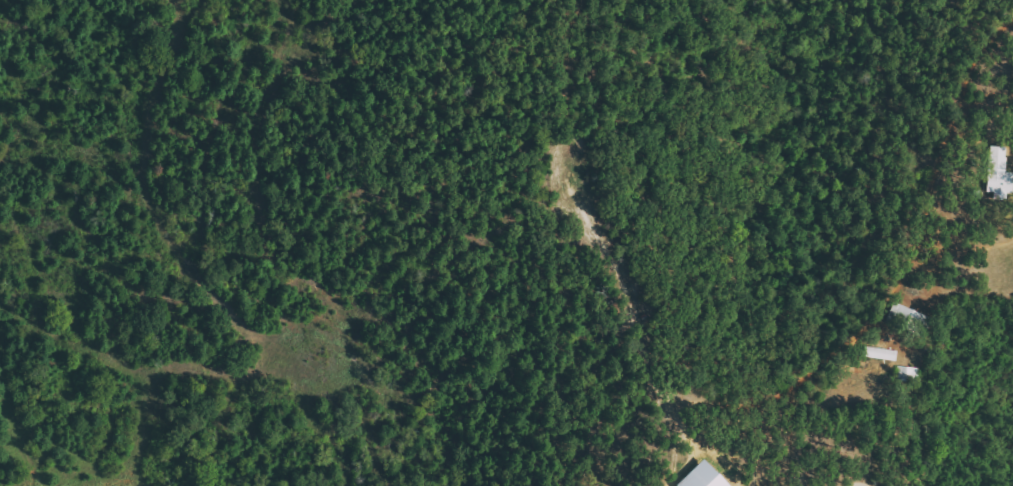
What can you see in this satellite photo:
building: (999, 171)
building: (911, 315)
building: (882, 353)
building: (705, 476)

